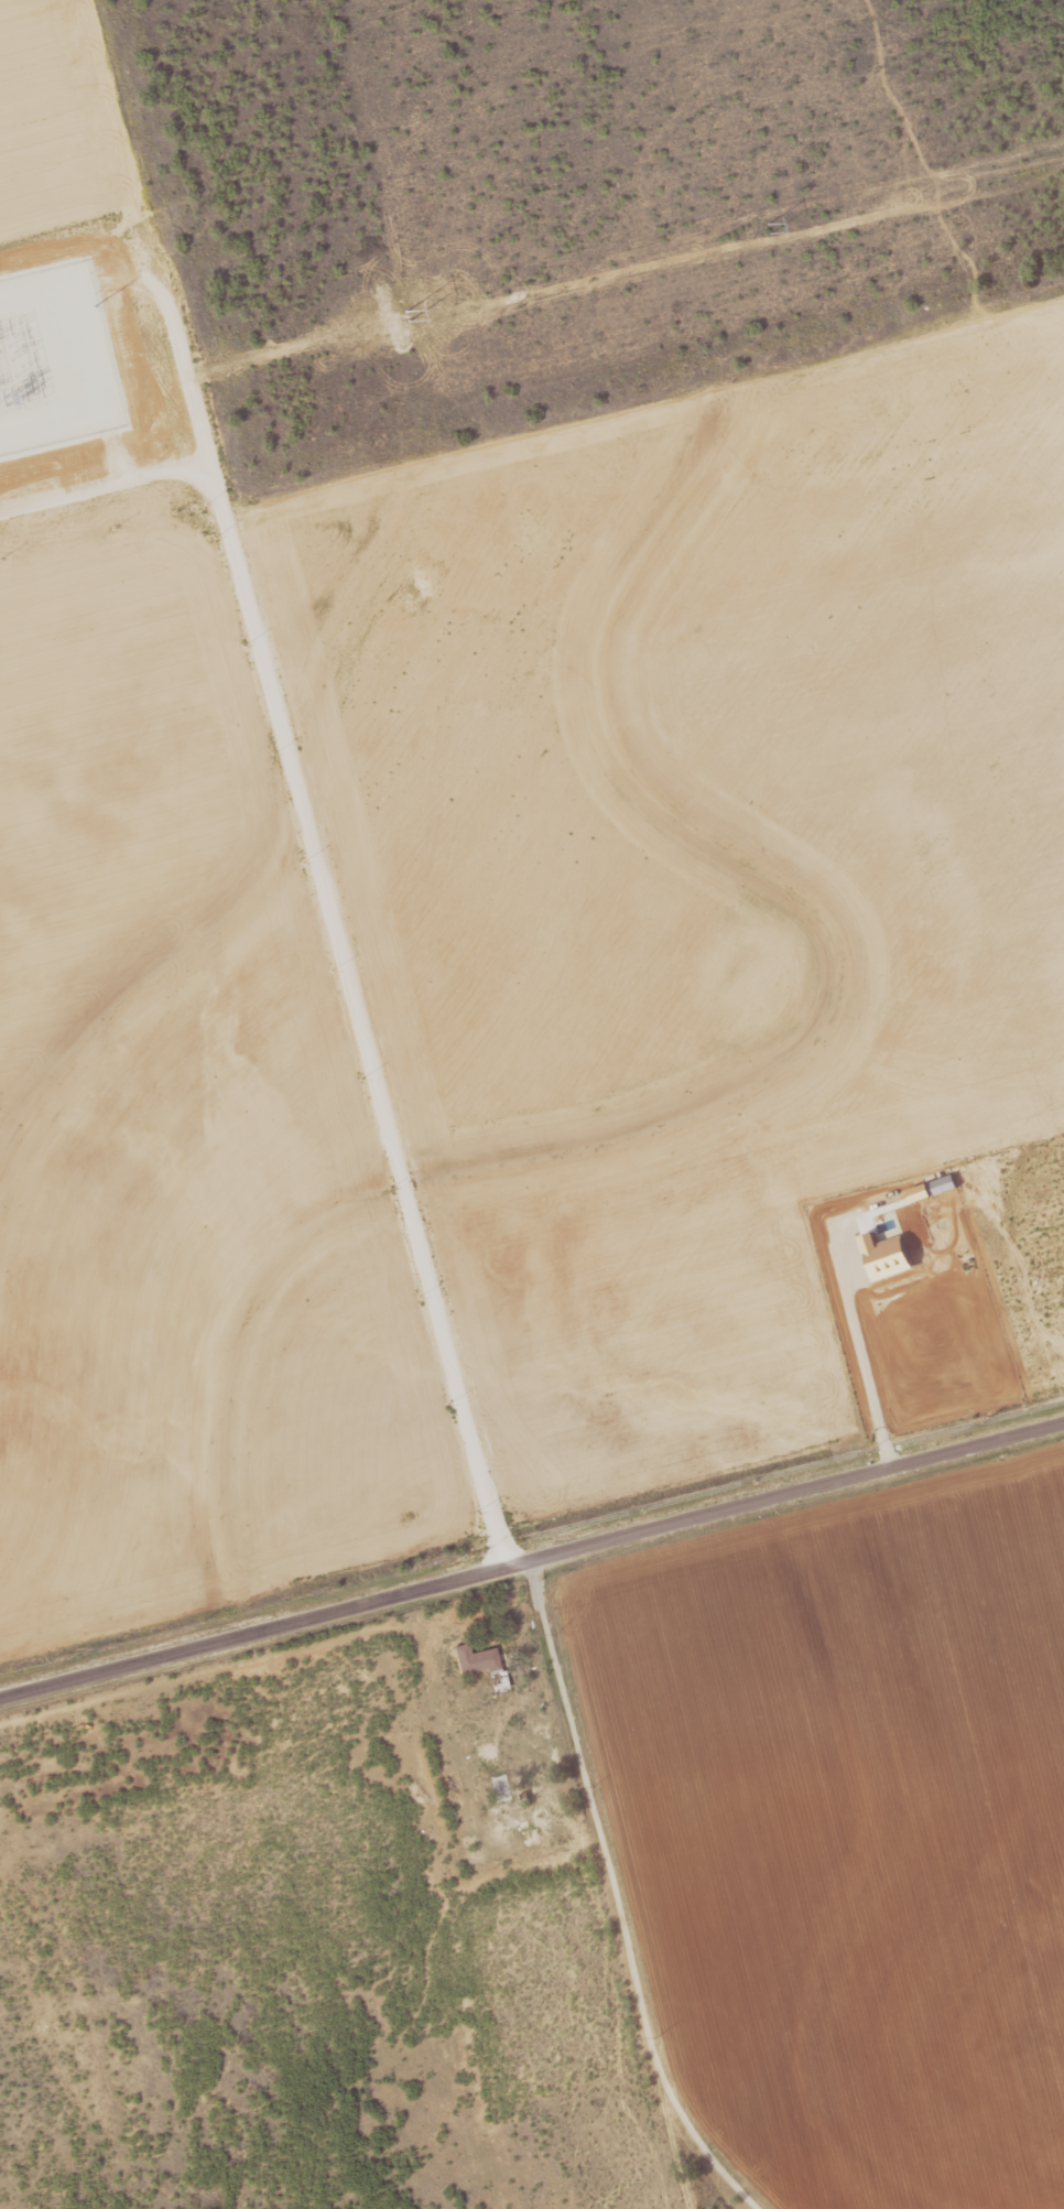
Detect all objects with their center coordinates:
power tower: (766, 228)
power tower: (410, 315)
power tower: (55, 402)
road: (532, 1559)
building: (484, 1664)
building: (524, 1776)
building: (499, 1788)
road: (615, 1898)

